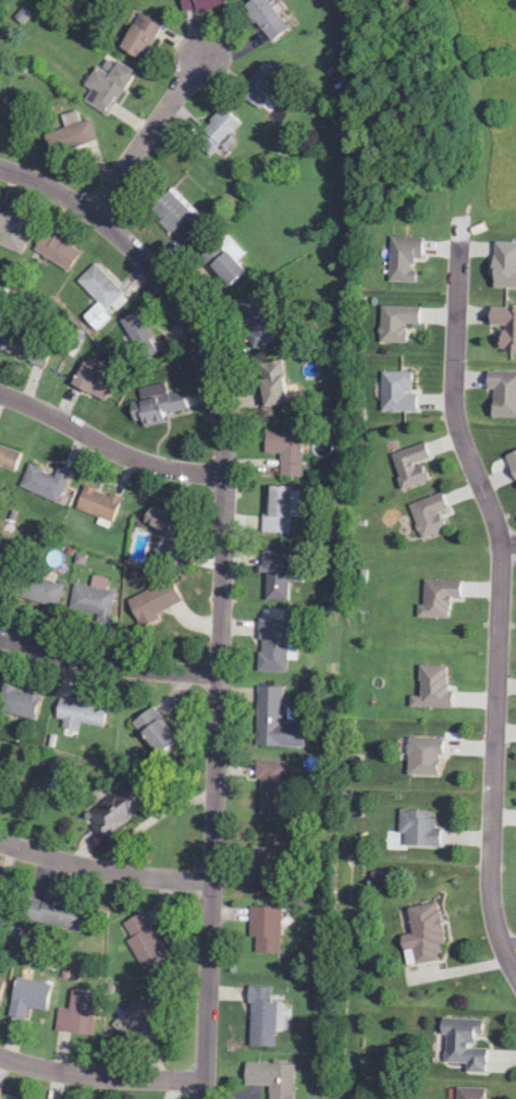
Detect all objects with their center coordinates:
building: (202, 4)
building: (266, 19)
building: (138, 36)
building: (260, 85)
building: (109, 87)
building: (77, 131)
building: (216, 131)
road: (146, 138)
building: (175, 216)
building: (13, 231)
building: (56, 251)
building: (223, 259)
building: (403, 259)
building: (504, 265)
building: (99, 286)
building: (95, 317)
building: (256, 319)
building: (395, 322)
building: (504, 327)
building: (137, 335)
building: (25, 347)
building: (93, 380)
building: (271, 384)
building: (397, 392)
building: (502, 393)
building: (156, 405)
road: (110, 447)
building: (283, 449)
building: (8, 460)
building: (410, 464)
building: (514, 473)
building: (44, 483)
building: (96, 504)
building: (280, 509)
building: (428, 515)
building: (162, 523)
road: (508, 547)
building: (2, 572)
building: (274, 576)
road: (224, 581)
building: (37, 591)
building: (438, 598)
building: (91, 599)
building: (156, 600)
road: (500, 603)
building: (272, 646)
road: (109, 663)
building: (17, 703)
building: (79, 715)
building: (274, 721)
building: (152, 733)
building: (423, 757)
building: (2, 790)
building: (271, 792)
building: (116, 810)
building: (418, 828)
building: (272, 863)
road: (105, 869)
building: (53, 914)
building: (263, 930)
building: (423, 935)
building: (144, 941)
road: (512, 955)
building: (1, 985)
building: (27, 997)
building: (76, 1014)
building: (136, 1015)
building: (261, 1017)
building: (465, 1043)
road: (101, 1076)
building: (270, 1077)
building: (469, 1094)

